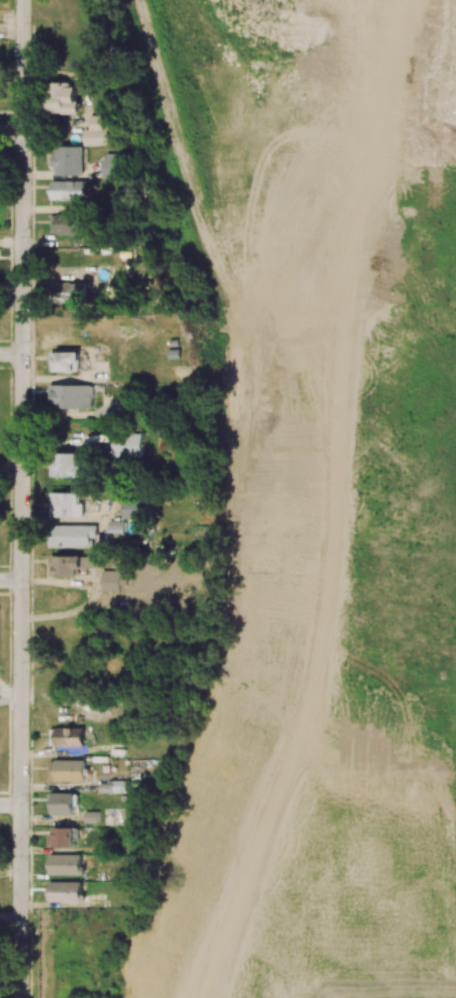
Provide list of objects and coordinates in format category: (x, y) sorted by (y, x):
road: (11, 18)
building: (63, 98)
road: (11, 130)
building: (100, 131)
building: (68, 160)
building: (111, 165)
building: (69, 190)
building: (69, 224)
road: (11, 244)
road: (11, 355)
building: (65, 361)
building: (71, 396)
building: (123, 405)
building: (129, 444)
building: (69, 465)
road: (11, 468)
road: (22, 499)
building: (66, 505)
building: (137, 509)
building: (75, 536)
building: (70, 564)
road: (11, 580)
building: (112, 580)
building: (74, 632)
road: (11, 692)
building: (69, 736)
building: (67, 770)
building: (110, 787)
building: (63, 803)
road: (10, 805)
building: (63, 837)
building: (65, 864)
building: (65, 891)
road: (10, 919)

